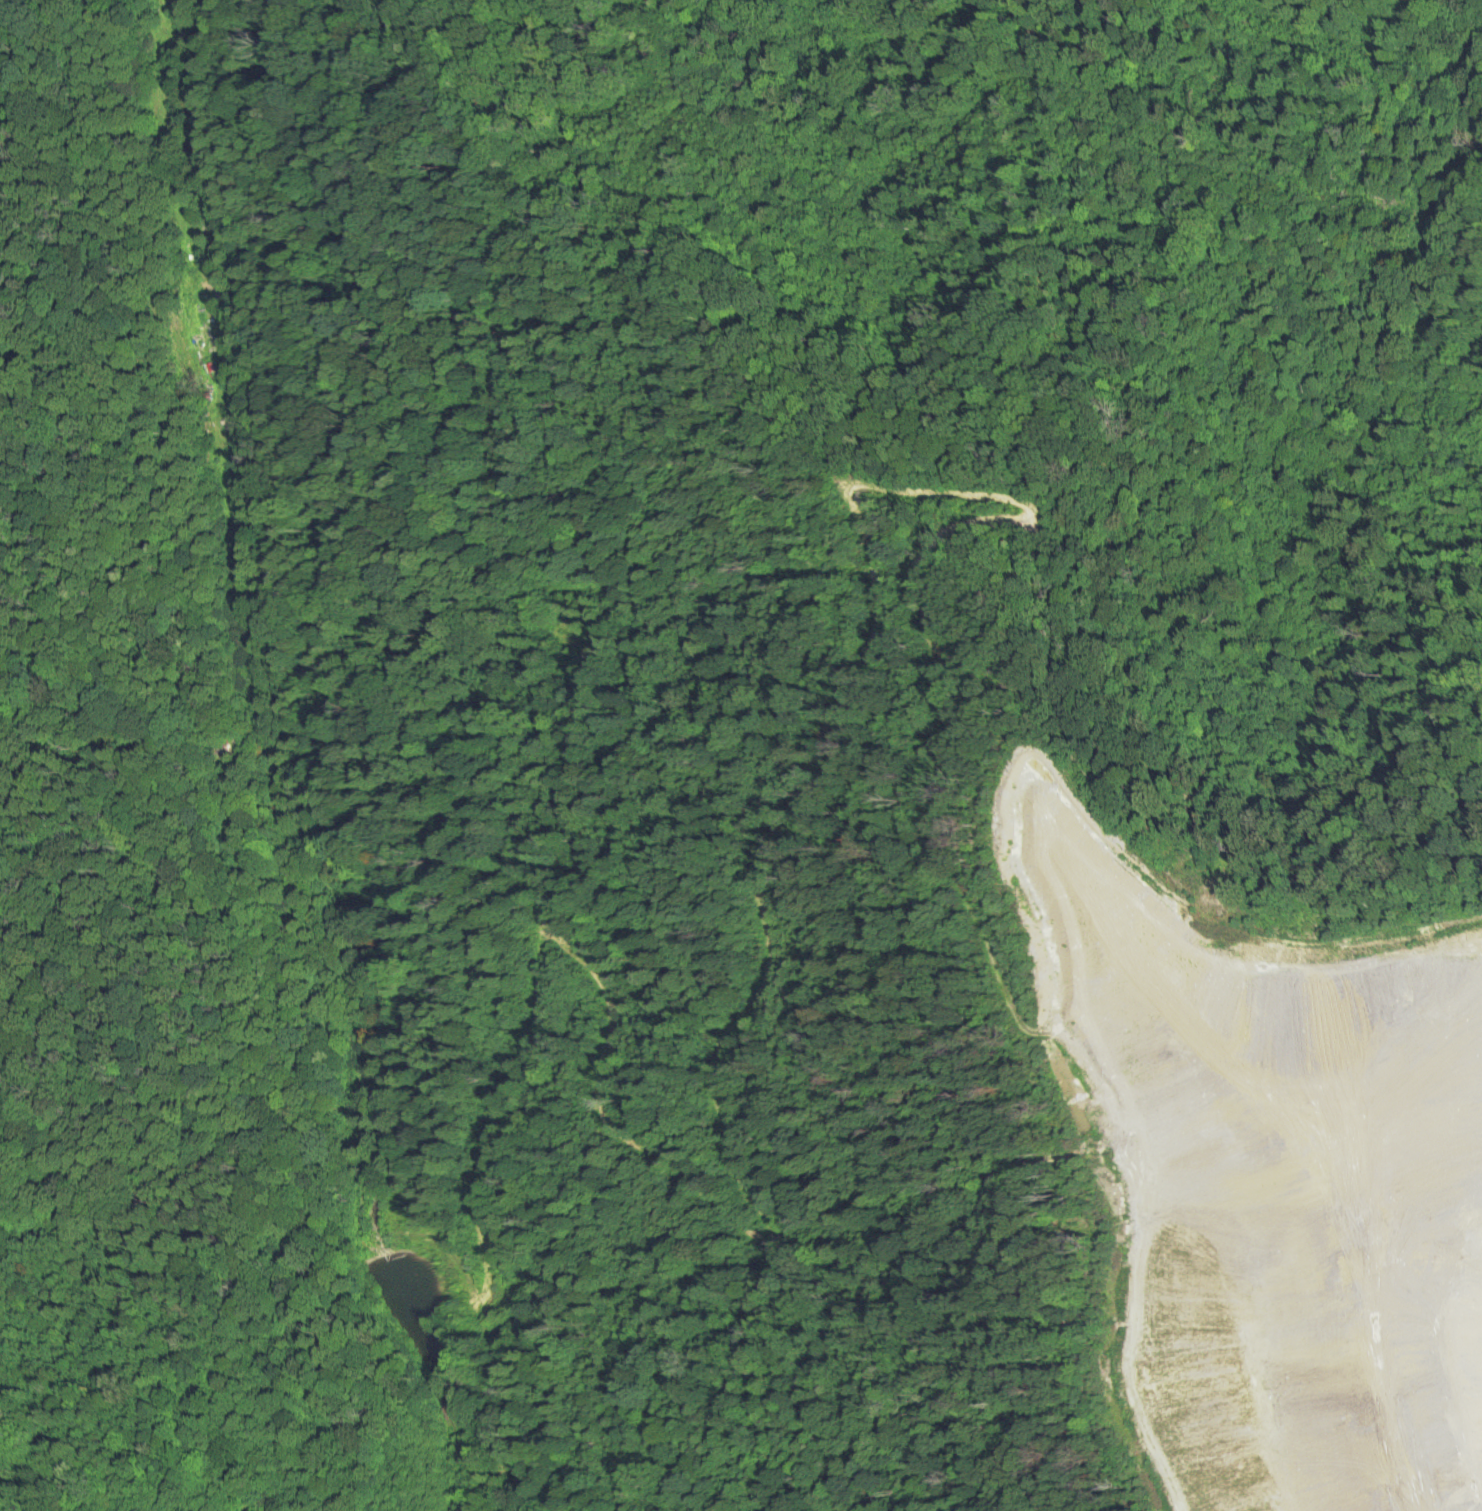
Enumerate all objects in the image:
road: (207, 146)
building: (206, 352)
quarry: (1251, 1164)

